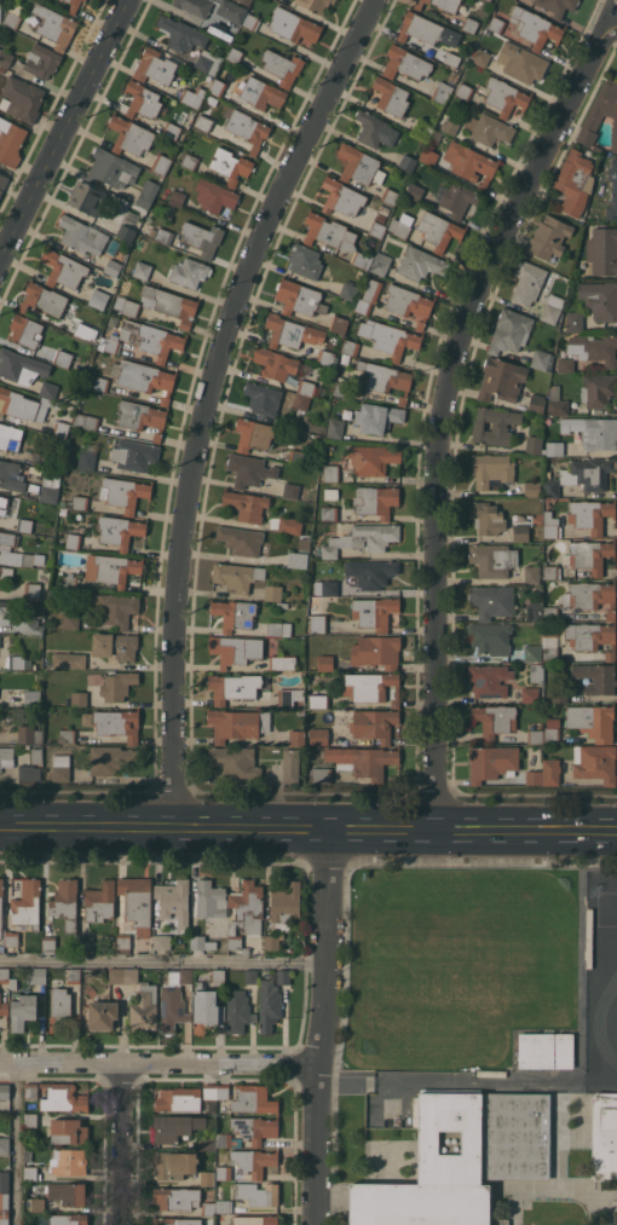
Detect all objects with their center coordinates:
building: (241, 0)
building: (439, 4)
building: (73, 5)
building: (316, 5)
building: (557, 6)
building: (0, 11)
building: (13, 16)
building: (206, 16)
building: (233, 16)
building: (249, 21)
building: (469, 24)
building: (496, 24)
building: (52, 25)
building: (293, 25)
building: (534, 27)
building: (420, 28)
building: (181, 34)
building: (233, 54)
building: (452, 56)
building: (479, 56)
building: (5, 57)
building: (42, 60)
building: (208, 60)
building: (405, 63)
building: (523, 63)
building: (282, 65)
building: (156, 67)
building: (1, 68)
building: (250, 91)
building: (463, 91)
building: (442, 92)
building: (192, 96)
building: (391, 96)
building: (504, 96)
building: (22, 98)
building: (143, 99)
building: (211, 100)
building: (600, 114)
building: (203, 122)
building: (450, 126)
building: (247, 128)
building: (423, 128)
building: (489, 128)
road: (63, 129)
building: (172, 129)
building: (374, 129)
building: (131, 135)
building: (436, 135)
building: (11, 141)
building: (428, 156)
building: (189, 160)
building: (406, 162)
building: (471, 162)
building: (161, 163)
building: (230, 164)
building: (359, 164)
building: (110, 167)
building: (2, 181)
building: (572, 181)
building: (612, 190)
building: (414, 191)
building: (146, 193)
building: (215, 195)
building: (341, 196)
building: (390, 196)
building: (87, 197)
building: (177, 197)
building: (456, 198)
building: (380, 216)
building: (400, 225)
building: (376, 229)
building: (438, 230)
building: (125, 232)
building: (82, 235)
building: (163, 236)
building: (334, 236)
building: (547, 236)
building: (202, 237)
building: (602, 250)
building: (305, 260)
building: (381, 262)
building: (421, 262)
building: (113, 267)
building: (63, 268)
building: (142, 268)
building: (189, 271)
building: (527, 282)
building: (348, 289)
building: (299, 296)
building: (368, 296)
building: (98, 297)
building: (600, 299)
building: (45, 300)
building: (408, 302)
building: (169, 304)
building: (126, 306)
building: (552, 308)
building: (575, 320)
building: (339, 323)
building: (25, 330)
building: (83, 330)
building: (509, 330)
building: (290, 331)
building: (388, 336)
building: (156, 340)
building: (109, 343)
building: (350, 346)
building: (593, 347)
building: (62, 358)
building: (328, 358)
building: (540, 359)
building: (275, 363)
building: (565, 364)
building: (21, 366)
building: (144, 377)
building: (307, 379)
building: (385, 379)
building: (501, 379)
building: (97, 383)
building: (340, 387)
building: (47, 389)
building: (598, 389)
road: (206, 397)
building: (263, 398)
building: (300, 401)
building: (558, 401)
building: (535, 403)
building: (23, 404)
road: (446, 404)
building: (142, 416)
building: (376, 416)
building: (86, 421)
building: (495, 424)
building: (335, 427)
building: (60, 428)
building: (599, 433)
building: (253, 434)
building: (10, 437)
building: (532, 444)
building: (554, 447)
building: (134, 453)
building: (87, 456)
building: (296, 456)
building: (38, 458)
building: (371, 458)
building: (250, 469)
building: (491, 470)
building: (330, 473)
building: (582, 474)
building: (11, 475)
building: (531, 489)
building: (290, 490)
building: (123, 492)
building: (48, 493)
building: (330, 493)
building: (375, 501)
building: (77, 502)
building: (2, 504)
building: (246, 504)
building: (328, 513)
building: (590, 514)
building: (486, 516)
building: (548, 518)
building: (289, 524)
building: (24, 525)
building: (119, 530)
building: (552, 530)
building: (520, 532)
building: (362, 538)
building: (73, 539)
building: (7, 541)
building: (243, 541)
building: (304, 543)
building: (589, 555)
building: (30, 559)
building: (296, 559)
building: (492, 559)
building: (113, 570)
building: (550, 571)
building: (6, 572)
building: (371, 572)
building: (531, 573)
building: (236, 574)
building: (69, 580)
building: (324, 587)
building: (31, 589)
building: (272, 593)
building: (53, 595)
building: (592, 596)
building: (491, 600)
building: (282, 605)
building: (5, 607)
building: (114, 607)
building: (374, 612)
building: (535, 612)
building: (233, 613)
building: (550, 613)
building: (316, 616)
building: (70, 620)
building: (31, 625)
building: (278, 628)
building: (490, 637)
building: (592, 637)
building: (550, 641)
building: (115, 645)
building: (235, 649)
building: (376, 651)
building: (532, 652)
building: (69, 659)
building: (19, 661)
building: (282, 661)
building: (325, 661)
building: (536, 672)
building: (596, 677)
building: (489, 680)
building: (117, 684)
building: (236, 687)
building: (370, 687)
building: (530, 694)
building: (559, 694)
building: (289, 695)
building: (317, 697)
building: (31, 698)
building: (79, 698)
building: (86, 718)
building: (494, 720)
building: (592, 721)
building: (117, 723)
building: (237, 723)
building: (374, 723)
building: (29, 734)
building: (552, 734)
building: (67, 735)
building: (318, 735)
building: (296, 736)
building: (535, 736)
building: (36, 755)
building: (6, 756)
building: (110, 758)
building: (233, 761)
building: (362, 761)
building: (492, 762)
building: (595, 762)
building: (60, 767)
building: (290, 769)
building: (552, 770)
building: (29, 772)
building: (322, 774)
building: (536, 775)
road: (27, 824)
road: (75, 824)
road: (134, 825)
road: (250, 826)
road: (346, 827)
road: (382, 827)
road: (416, 827)
road: (480, 828)
road: (572, 828)
building: (211, 898)
building: (174, 900)
building: (100, 901)
building: (137, 901)
building: (65, 902)
building: (27, 903)
building: (286, 906)
building: (1, 909)
building: (246, 912)
building: (11, 937)
building: (123, 941)
building: (162, 941)
building: (271, 941)
building: (86, 942)
building: (201, 942)
building: (48, 943)
building: (224, 944)
road: (165, 961)
building: (4, 975)
building: (38, 975)
building: (116, 975)
building: (74, 976)
building: (250, 976)
building: (283, 976)
building: (218, 977)
building: (142, 1001)
building: (173, 1001)
building: (269, 1005)
building: (4, 1007)
building: (22, 1010)
building: (207, 1010)
building: (62, 1011)
building: (238, 1011)
building: (103, 1013)
road: (324, 1025)
building: (536, 1050)
building: (564, 1050)
road: (158, 1062)
road: (370, 1082)
building: (5, 1090)
building: (30, 1090)
building: (223, 1091)
building: (62, 1097)
building: (209, 1097)
building: (178, 1098)
building: (253, 1098)
building: (31, 1120)
building: (171, 1127)
building: (254, 1127)
building: (69, 1131)
building: (517, 1136)
building: (604, 1136)
building: (227, 1140)
building: (207, 1142)
road: (15, 1143)
road: (121, 1143)
building: (5, 1145)
building: (28, 1154)
building: (253, 1160)
building: (68, 1161)
building: (173, 1163)
building: (434, 1169)
building: (31, 1172)
building: (224, 1172)
building: (207, 1178)
building: (4, 1180)
building: (67, 1192)
building: (258, 1192)
building: (175, 1197)
building: (4, 1201)
building: (38, 1203)
building: (224, 1206)
building: (208, 1208)
building: (69, 1219)
building: (255, 1219)
building: (4, 1220)
building: (177, 1220)

